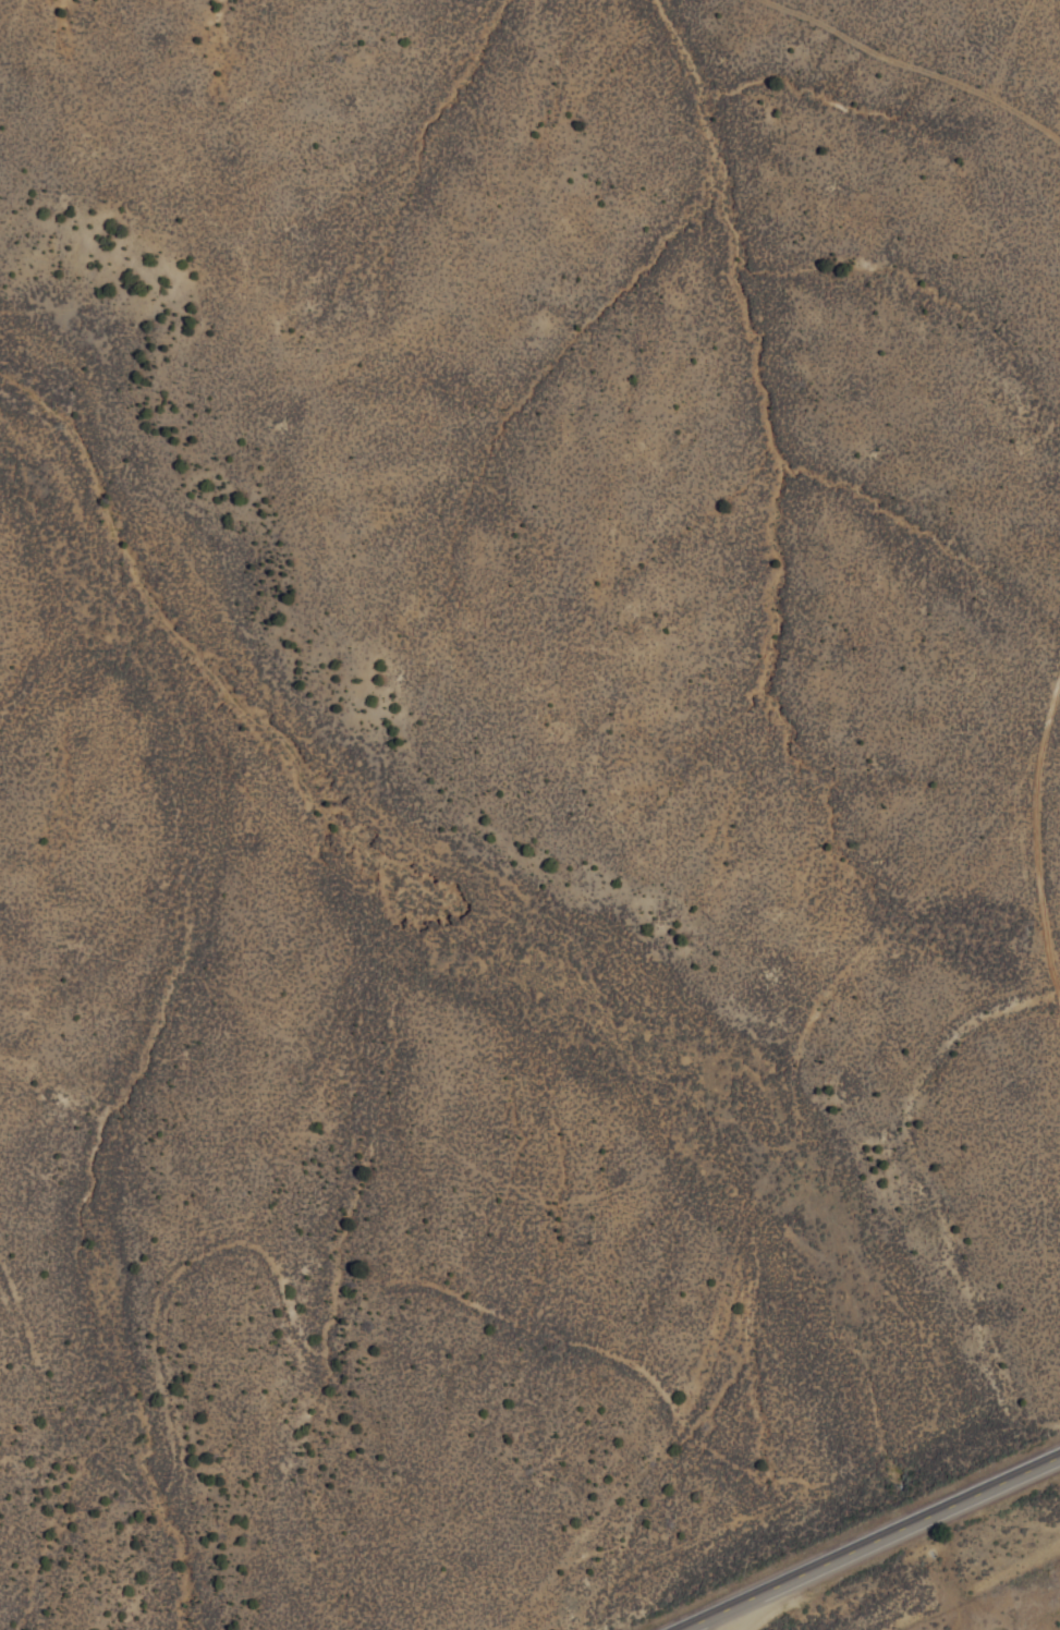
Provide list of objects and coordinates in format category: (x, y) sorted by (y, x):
road: (1037, 823)
road: (867, 1541)
road: (728, 1617)

